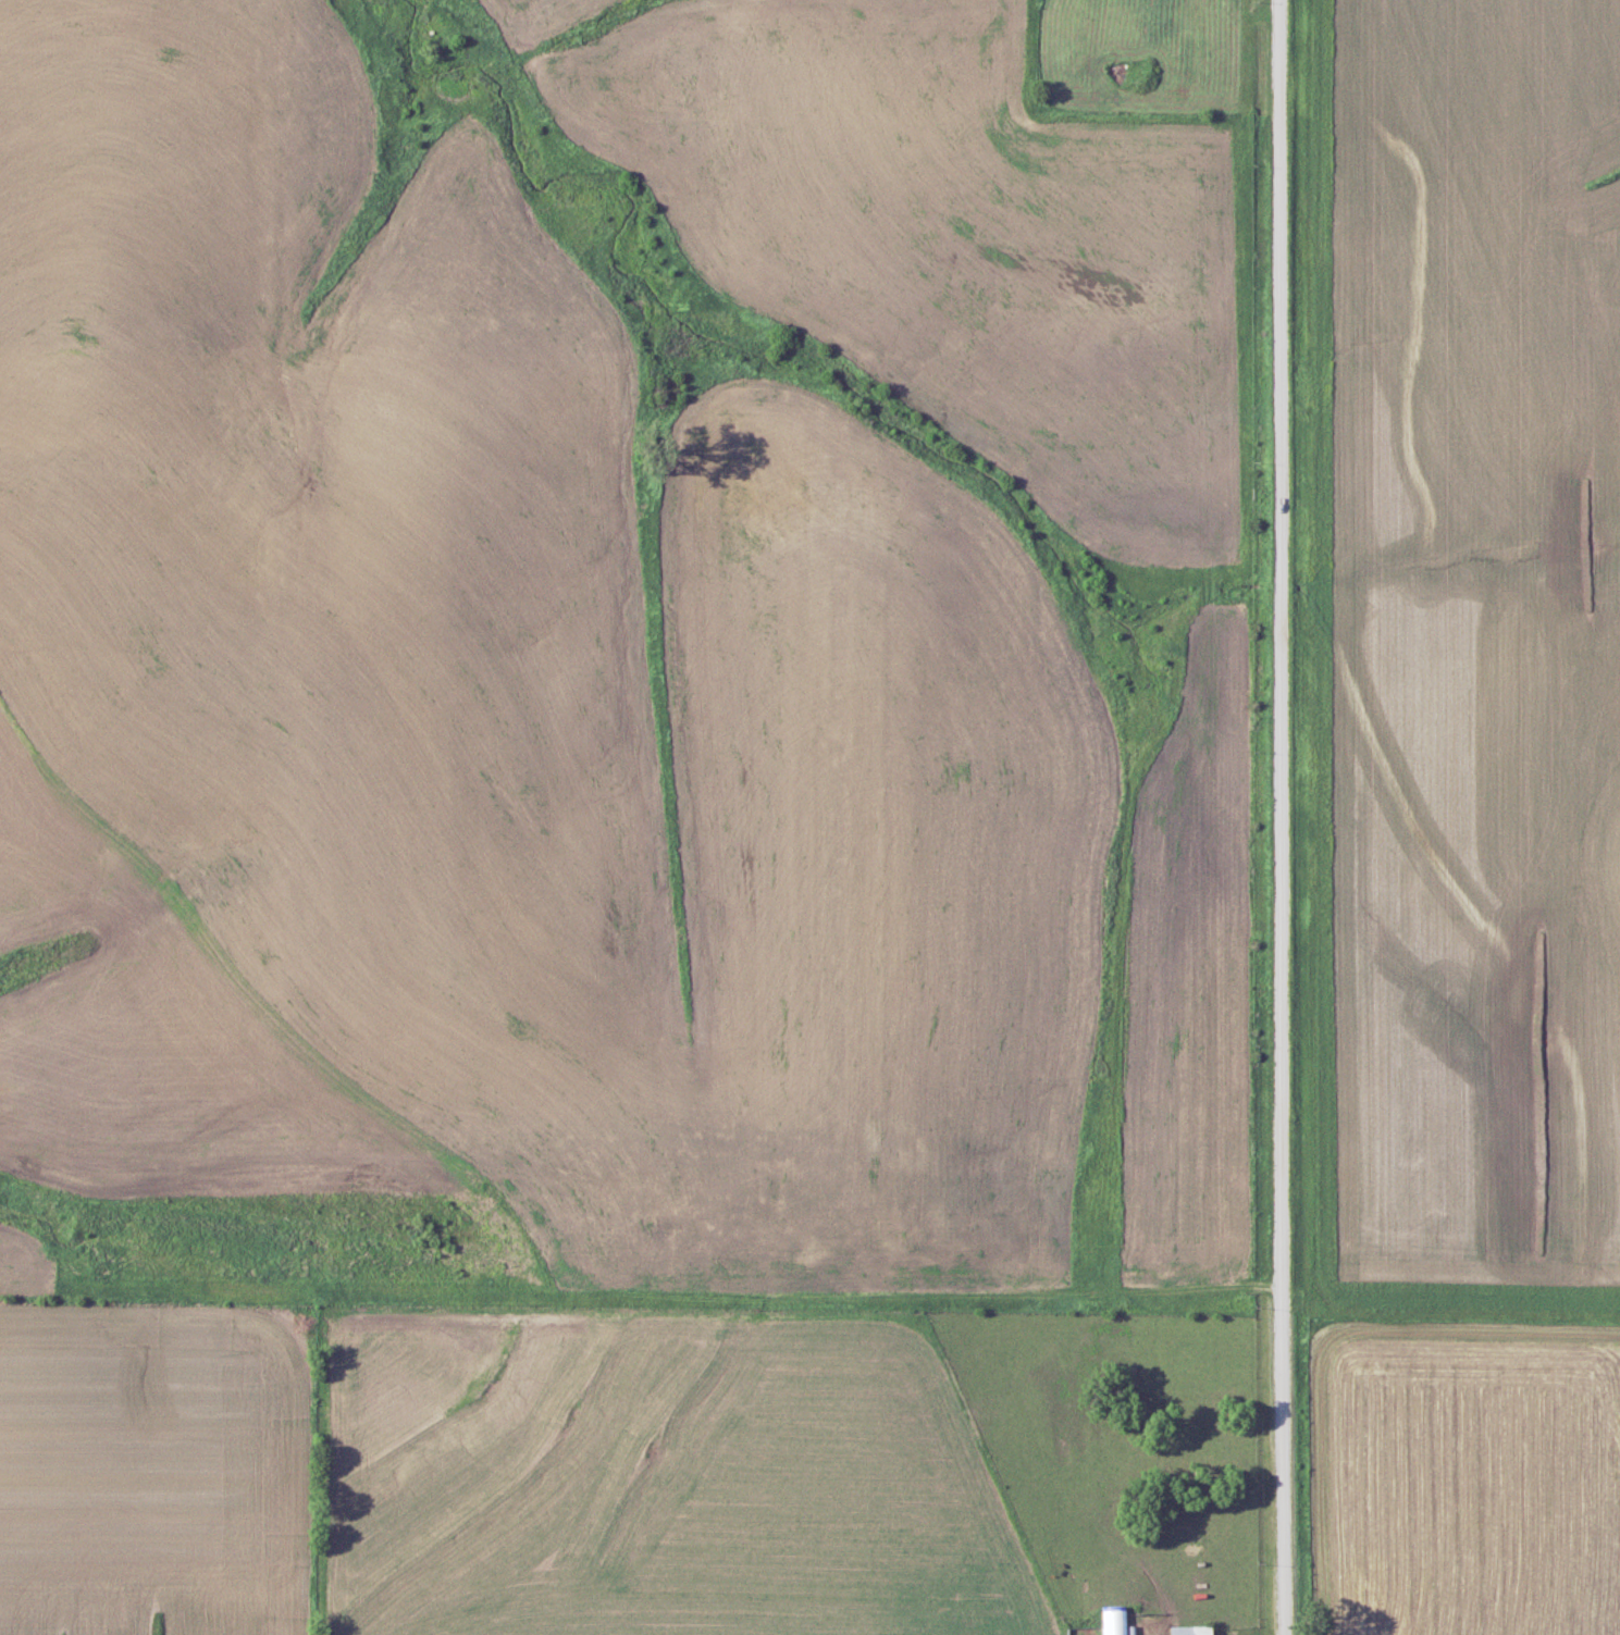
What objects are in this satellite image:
road: (1285, 817)
building: (1114, 1620)
building: (1188, 1630)

